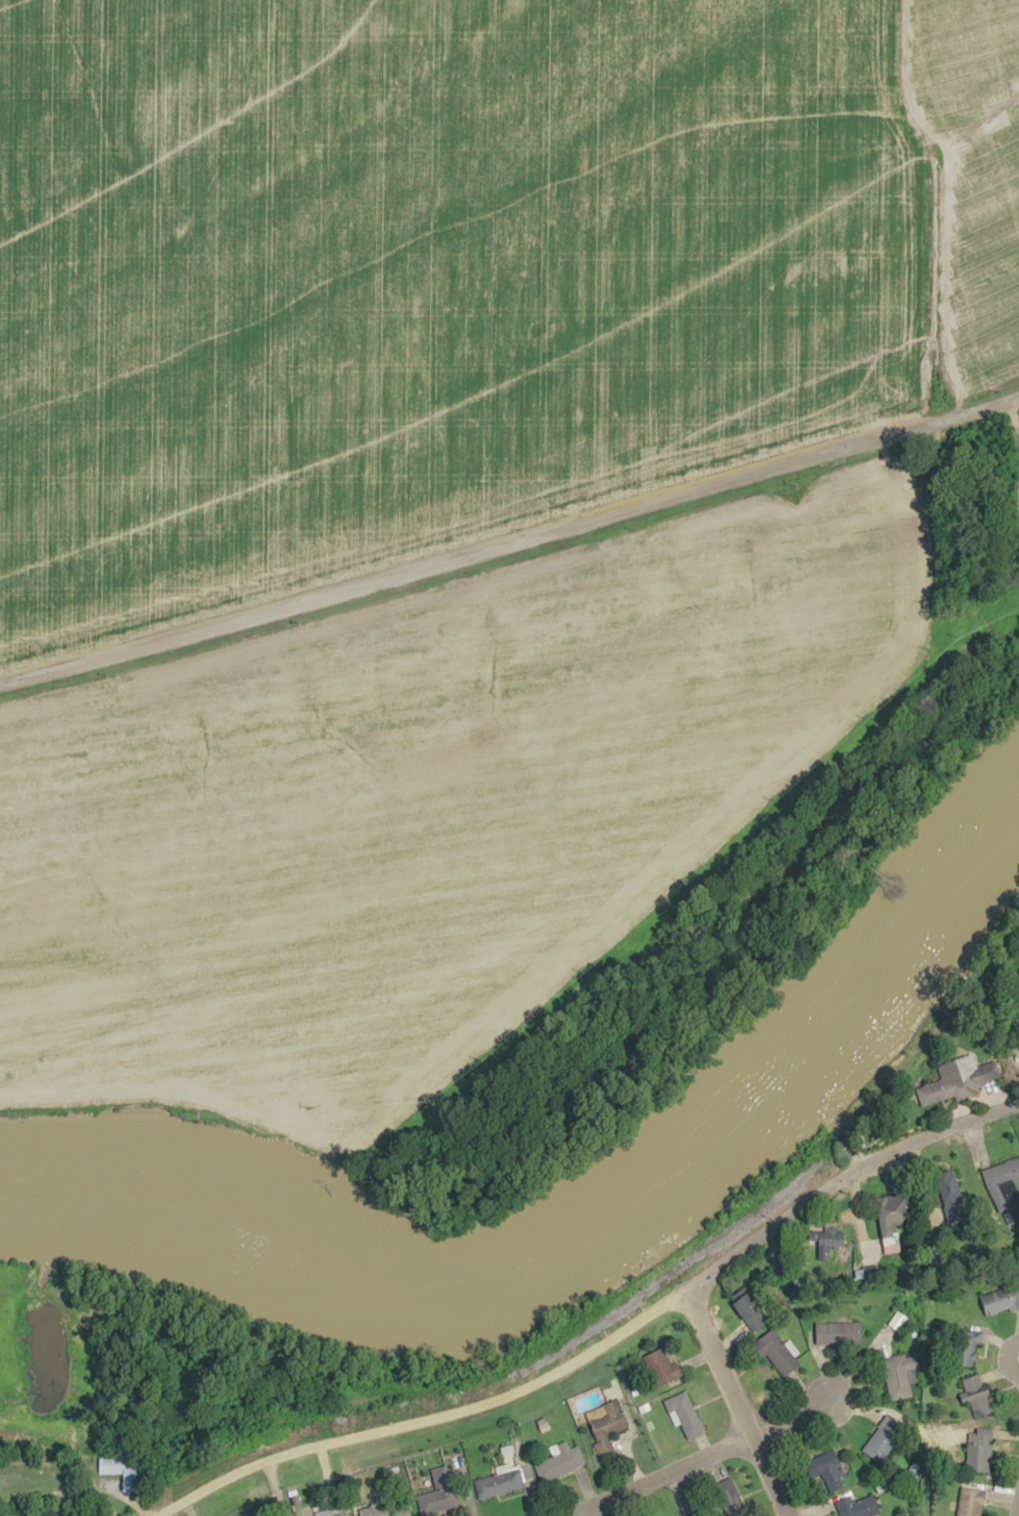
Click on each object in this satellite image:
road: (940, 203)
road: (511, 543)
building: (956, 1079)
building: (1001, 1181)
building: (951, 1197)
building: (896, 1212)
river: (588, 1251)
building: (1000, 1298)
building: (754, 1311)
building: (839, 1333)
road: (605, 1342)
building: (964, 1347)
building: (778, 1353)
road: (1007, 1357)
building: (663, 1368)
building: (901, 1374)
building: (977, 1395)
road: (734, 1402)
building: (686, 1414)
road: (788, 1417)
building: (606, 1425)
building: (883, 1438)
building: (979, 1452)
building: (560, 1462)
building: (829, 1466)
building: (127, 1471)
road: (651, 1476)
building: (499, 1482)
building: (882, 1482)
building: (439, 1493)
road: (1015, 1497)
building: (970, 1502)
building: (687, 1505)
building: (857, 1506)
building: (387, 1508)
building: (340, 1514)
road: (559, 1515)

